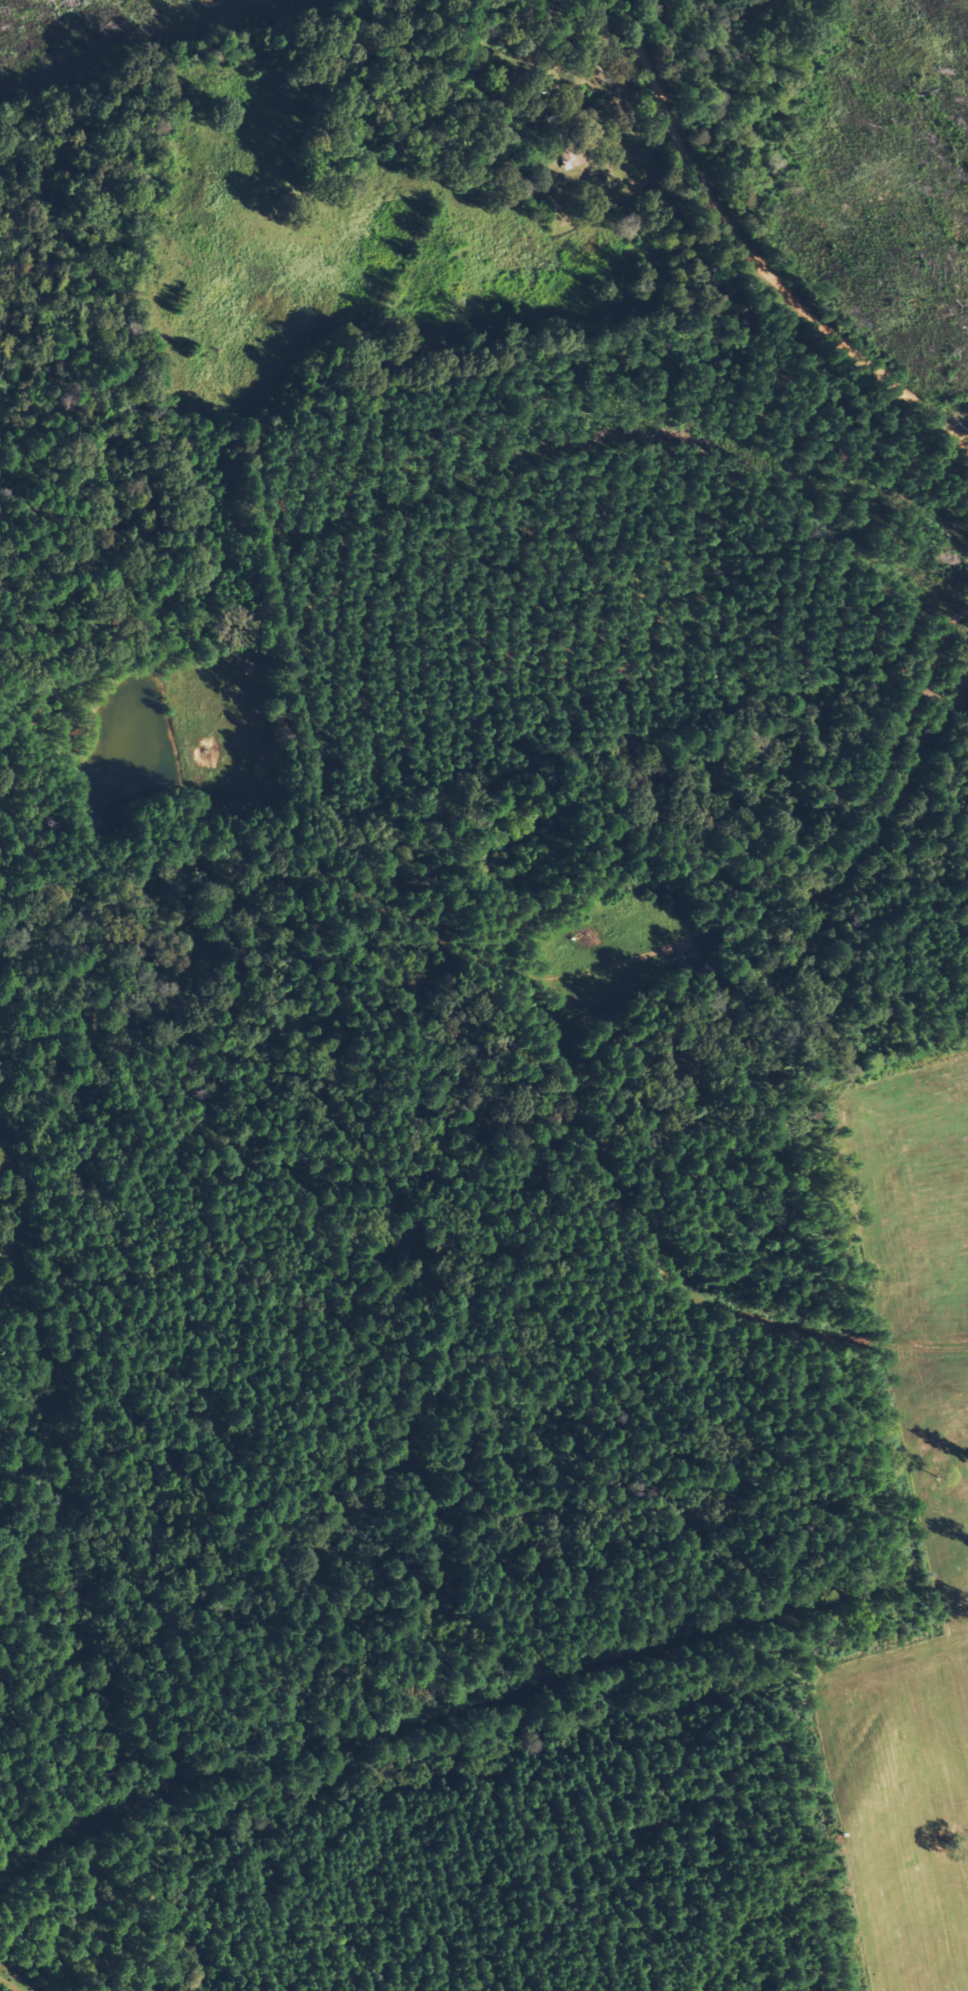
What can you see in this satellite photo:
road: (739, 265)
road: (848, 847)

